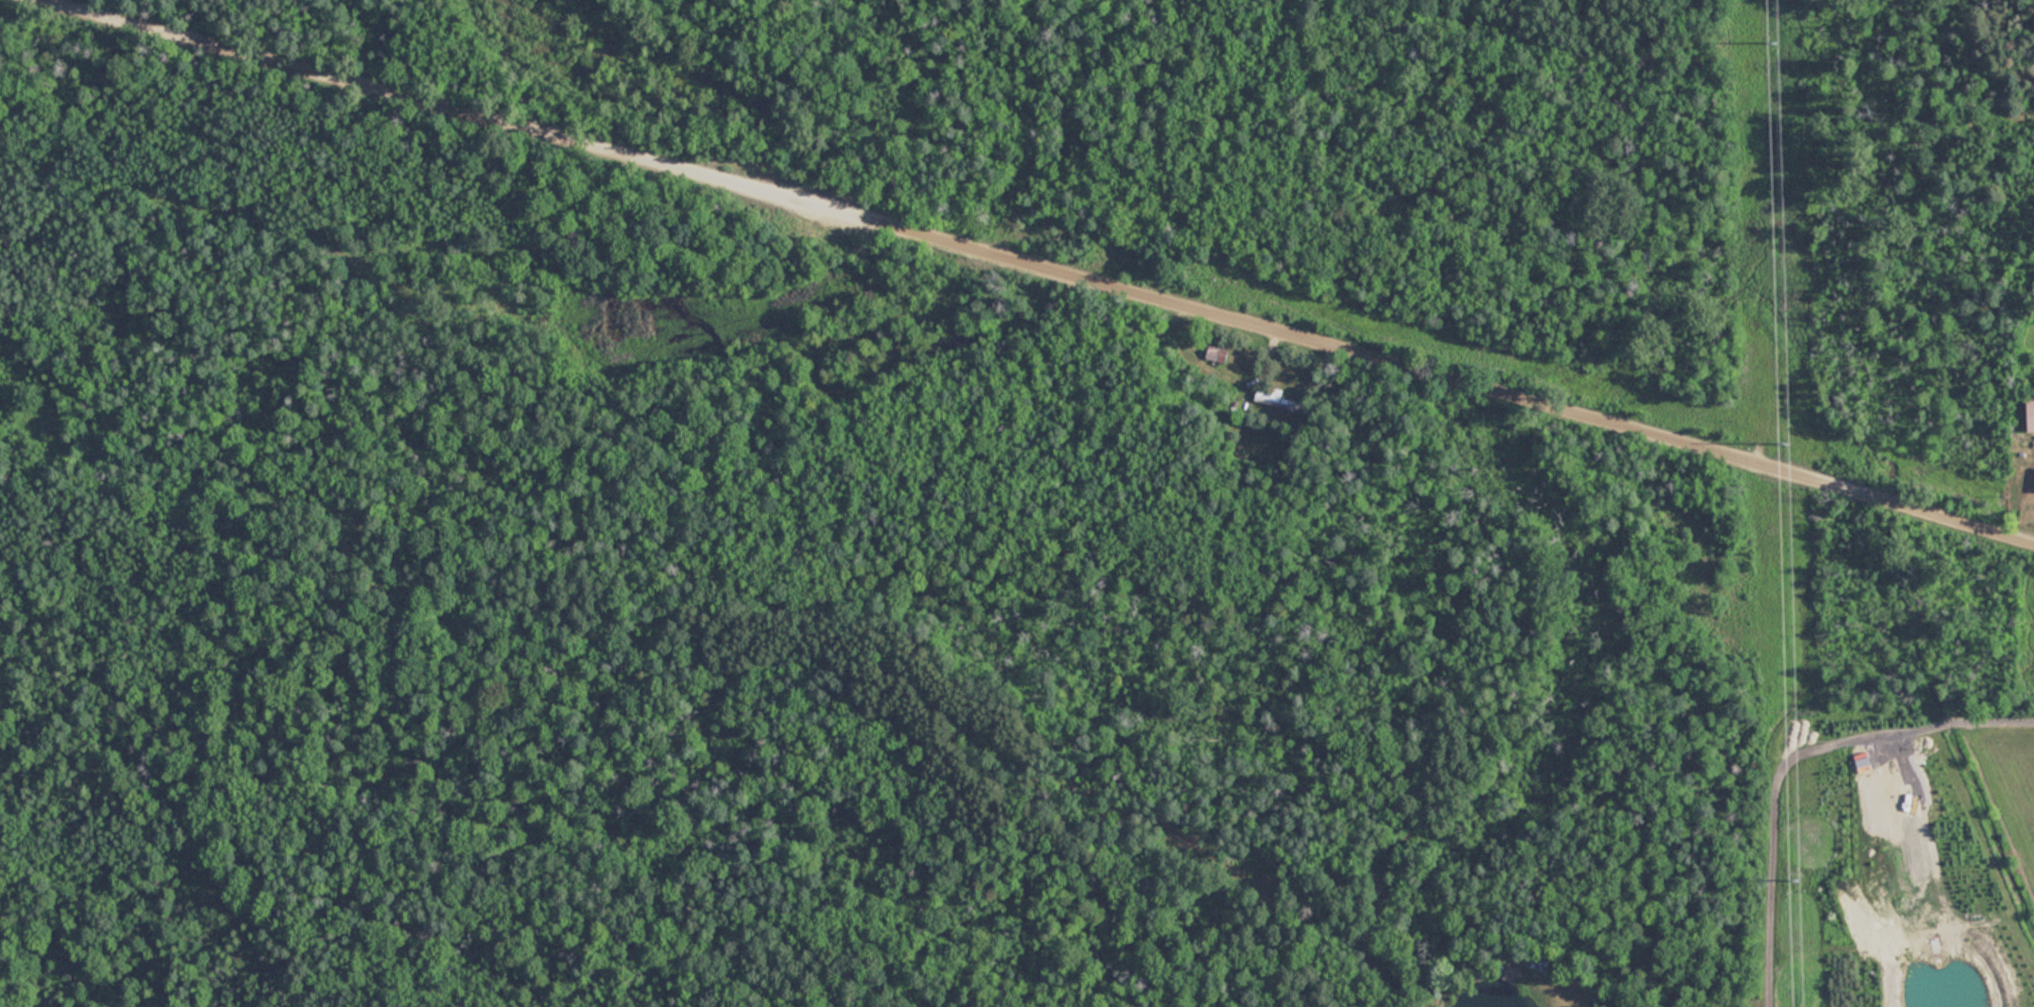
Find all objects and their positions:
power tower: (1776, 47)
road: (1040, 270)
building: (1216, 355)
building: (1276, 400)
building: (2029, 413)
power tower: (1787, 443)
park: (895, 464)
power tower: (1797, 880)

